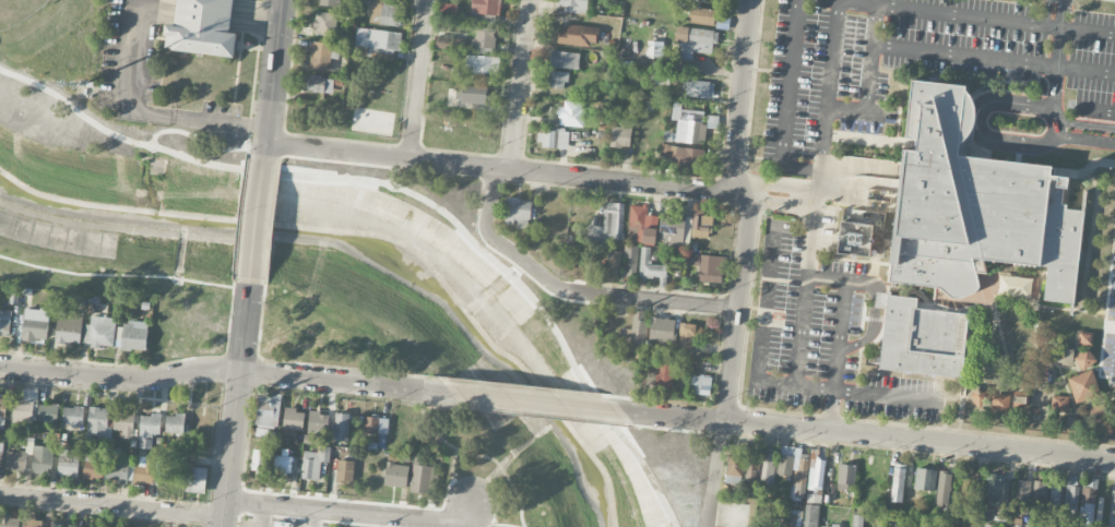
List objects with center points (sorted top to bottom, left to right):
building: (329, 2)
building: (574, 4)
building: (486, 7)
building: (387, 12)
road: (944, 13)
road: (1046, 13)
road: (1060, 14)
building: (701, 15)
building: (325, 24)
building: (203, 28)
building: (578, 35)
building: (484, 37)
building: (693, 40)
building: (378, 41)
road: (1058, 49)
road: (871, 50)
road: (420, 53)
building: (322, 55)
building: (564, 59)
building: (482, 64)
road: (128, 74)
building: (558, 79)
road: (274, 80)
building: (316, 84)
road: (520, 84)
building: (699, 88)
building: (474, 94)
road: (743, 95)
road: (786, 101)
road: (1099, 110)
building: (571, 112)
building: (712, 121)
road: (978, 121)
road: (220, 122)
road: (1084, 123)
building: (689, 124)
road: (412, 133)
building: (620, 136)
building: (551, 137)
road: (1083, 139)
building: (684, 155)
road: (359, 163)
road: (499, 168)
road: (778, 184)
road: (411, 185)
road: (774, 201)
building: (976, 205)
building: (518, 212)
road: (488, 216)
road: (258, 219)
building: (609, 224)
building: (641, 224)
building: (701, 225)
building: (675, 230)
building: (855, 238)
road: (499, 243)
building: (631, 259)
building: (614, 262)
building: (651, 266)
building: (711, 268)
road: (123, 273)
building: (1015, 286)
park: (332, 289)
road: (653, 299)
road: (738, 302)
building: (4, 322)
building: (35, 325)
building: (69, 327)
building: (663, 328)
building: (99, 332)
building: (639, 332)
building: (134, 336)
building: (922, 337)
building: (1086, 337)
building: (686, 338)
building: (1067, 356)
road: (798, 359)
road: (225, 370)
building: (663, 374)
building: (1084, 378)
building: (701, 384)
building: (1000, 402)
road: (236, 403)
building: (1060, 403)
road: (546, 404)
building: (25, 408)
building: (268, 410)
road: (830, 410)
building: (2, 412)
building: (48, 414)
building: (1041, 414)
building: (1099, 415)
building: (73, 416)
building: (294, 420)
building: (318, 422)
building: (1074, 422)
building: (124, 423)
building: (98, 424)
building: (175, 424)
building: (376, 426)
building: (341, 427)
building: (149, 430)
road: (877, 436)
building: (1, 455)
road: (477, 455)
building: (43, 459)
building: (16, 460)
building: (260, 460)
building: (68, 463)
building: (313, 463)
building: (735, 463)
building: (283, 465)
building: (785, 465)
building: (93, 468)
building: (768, 468)
building: (145, 470)
building: (118, 471)
building: (344, 471)
building: (751, 471)
road: (714, 474)
building: (816, 474)
building: (396, 475)
building: (799, 476)
building: (422, 477)
building: (846, 477)
building: (925, 478)
building: (197, 480)
road: (452, 480)
building: (898, 482)
building: (944, 487)
building: (972, 488)
building: (997, 491)
building: (1071, 492)
building: (1040, 493)
building: (1022, 494)
building: (1054, 502)
road: (111, 506)
building: (1087, 506)
building: (1112, 510)
road: (352, 511)
road: (261, 515)
building: (811, 515)
road: (319, 517)
building: (791, 520)
building: (857, 520)
building: (10, 522)
building: (925, 522)
building: (41, 524)
building: (828, 525)

